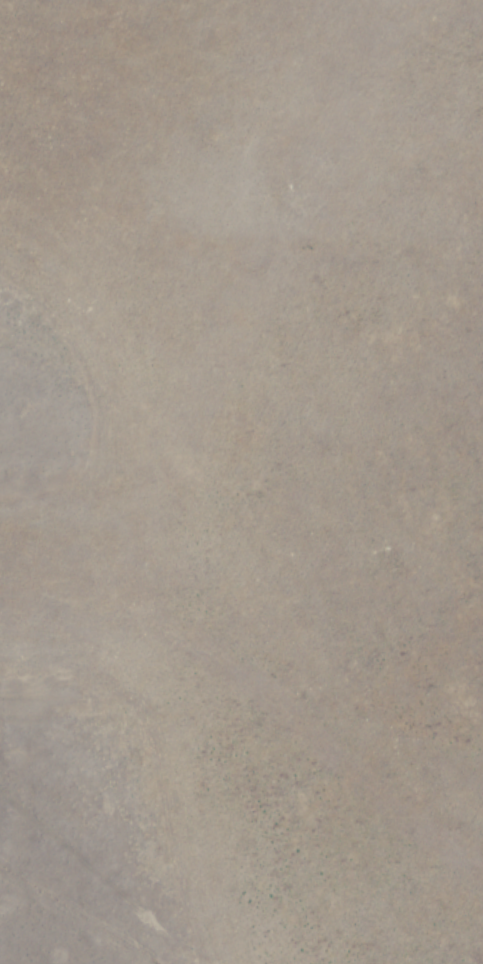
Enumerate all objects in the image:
road: (244, 662)

